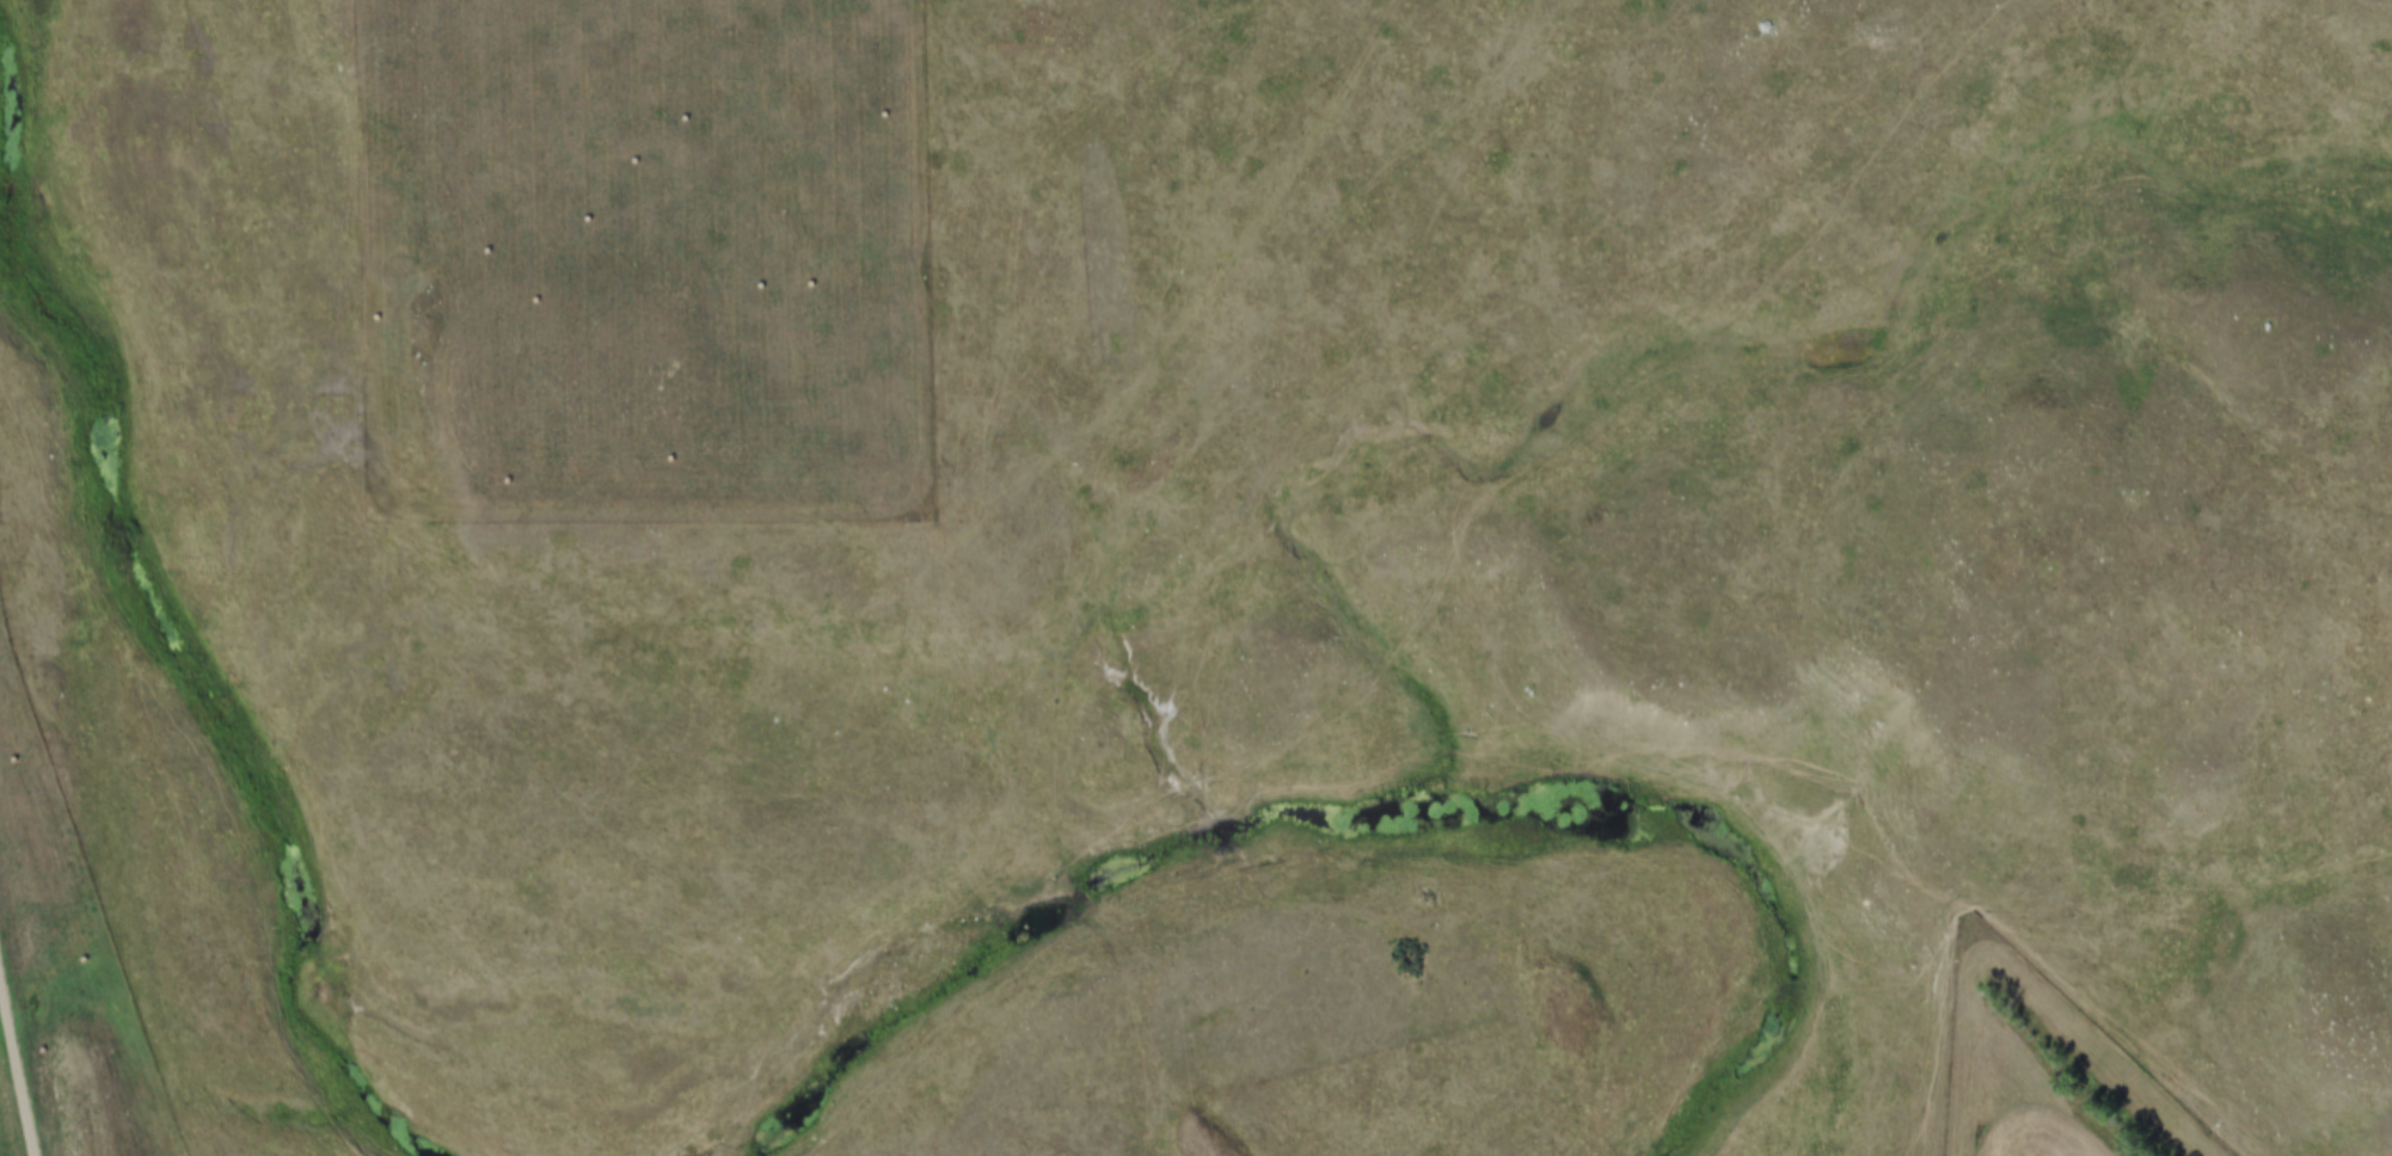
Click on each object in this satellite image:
road: (1319, 263)
road: (1195, 313)
road: (18, 1062)

